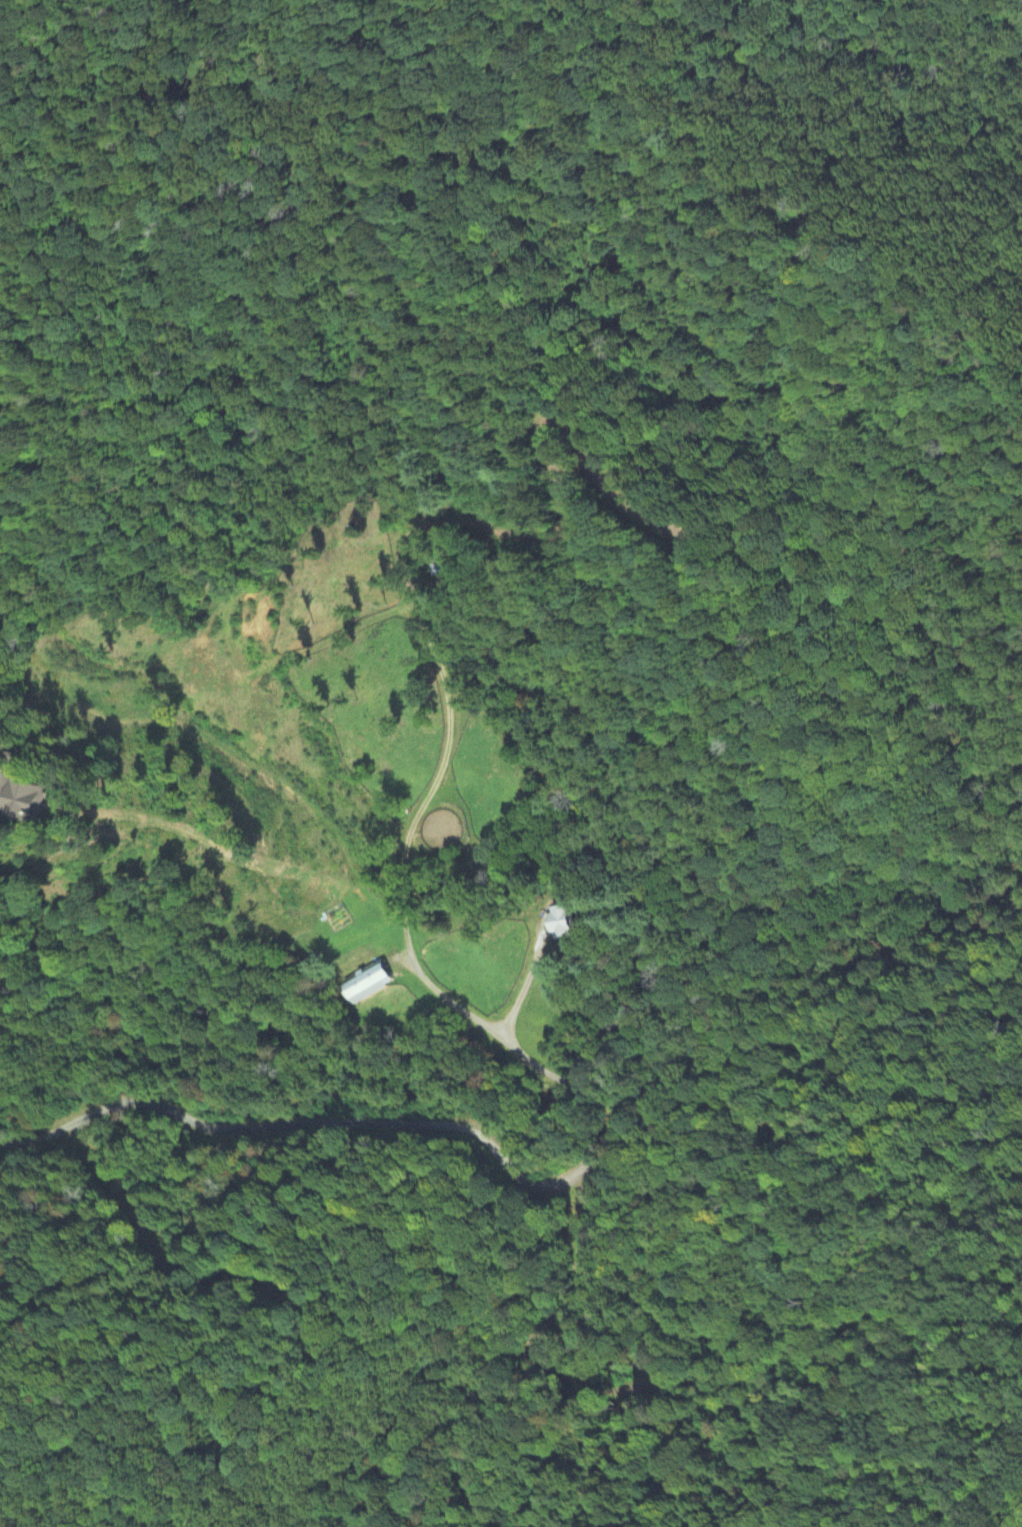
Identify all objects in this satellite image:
building: (2, 748)
building: (25, 801)
road: (405, 902)
building: (567, 931)
building: (372, 983)
road: (523, 989)
road: (532, 1189)

